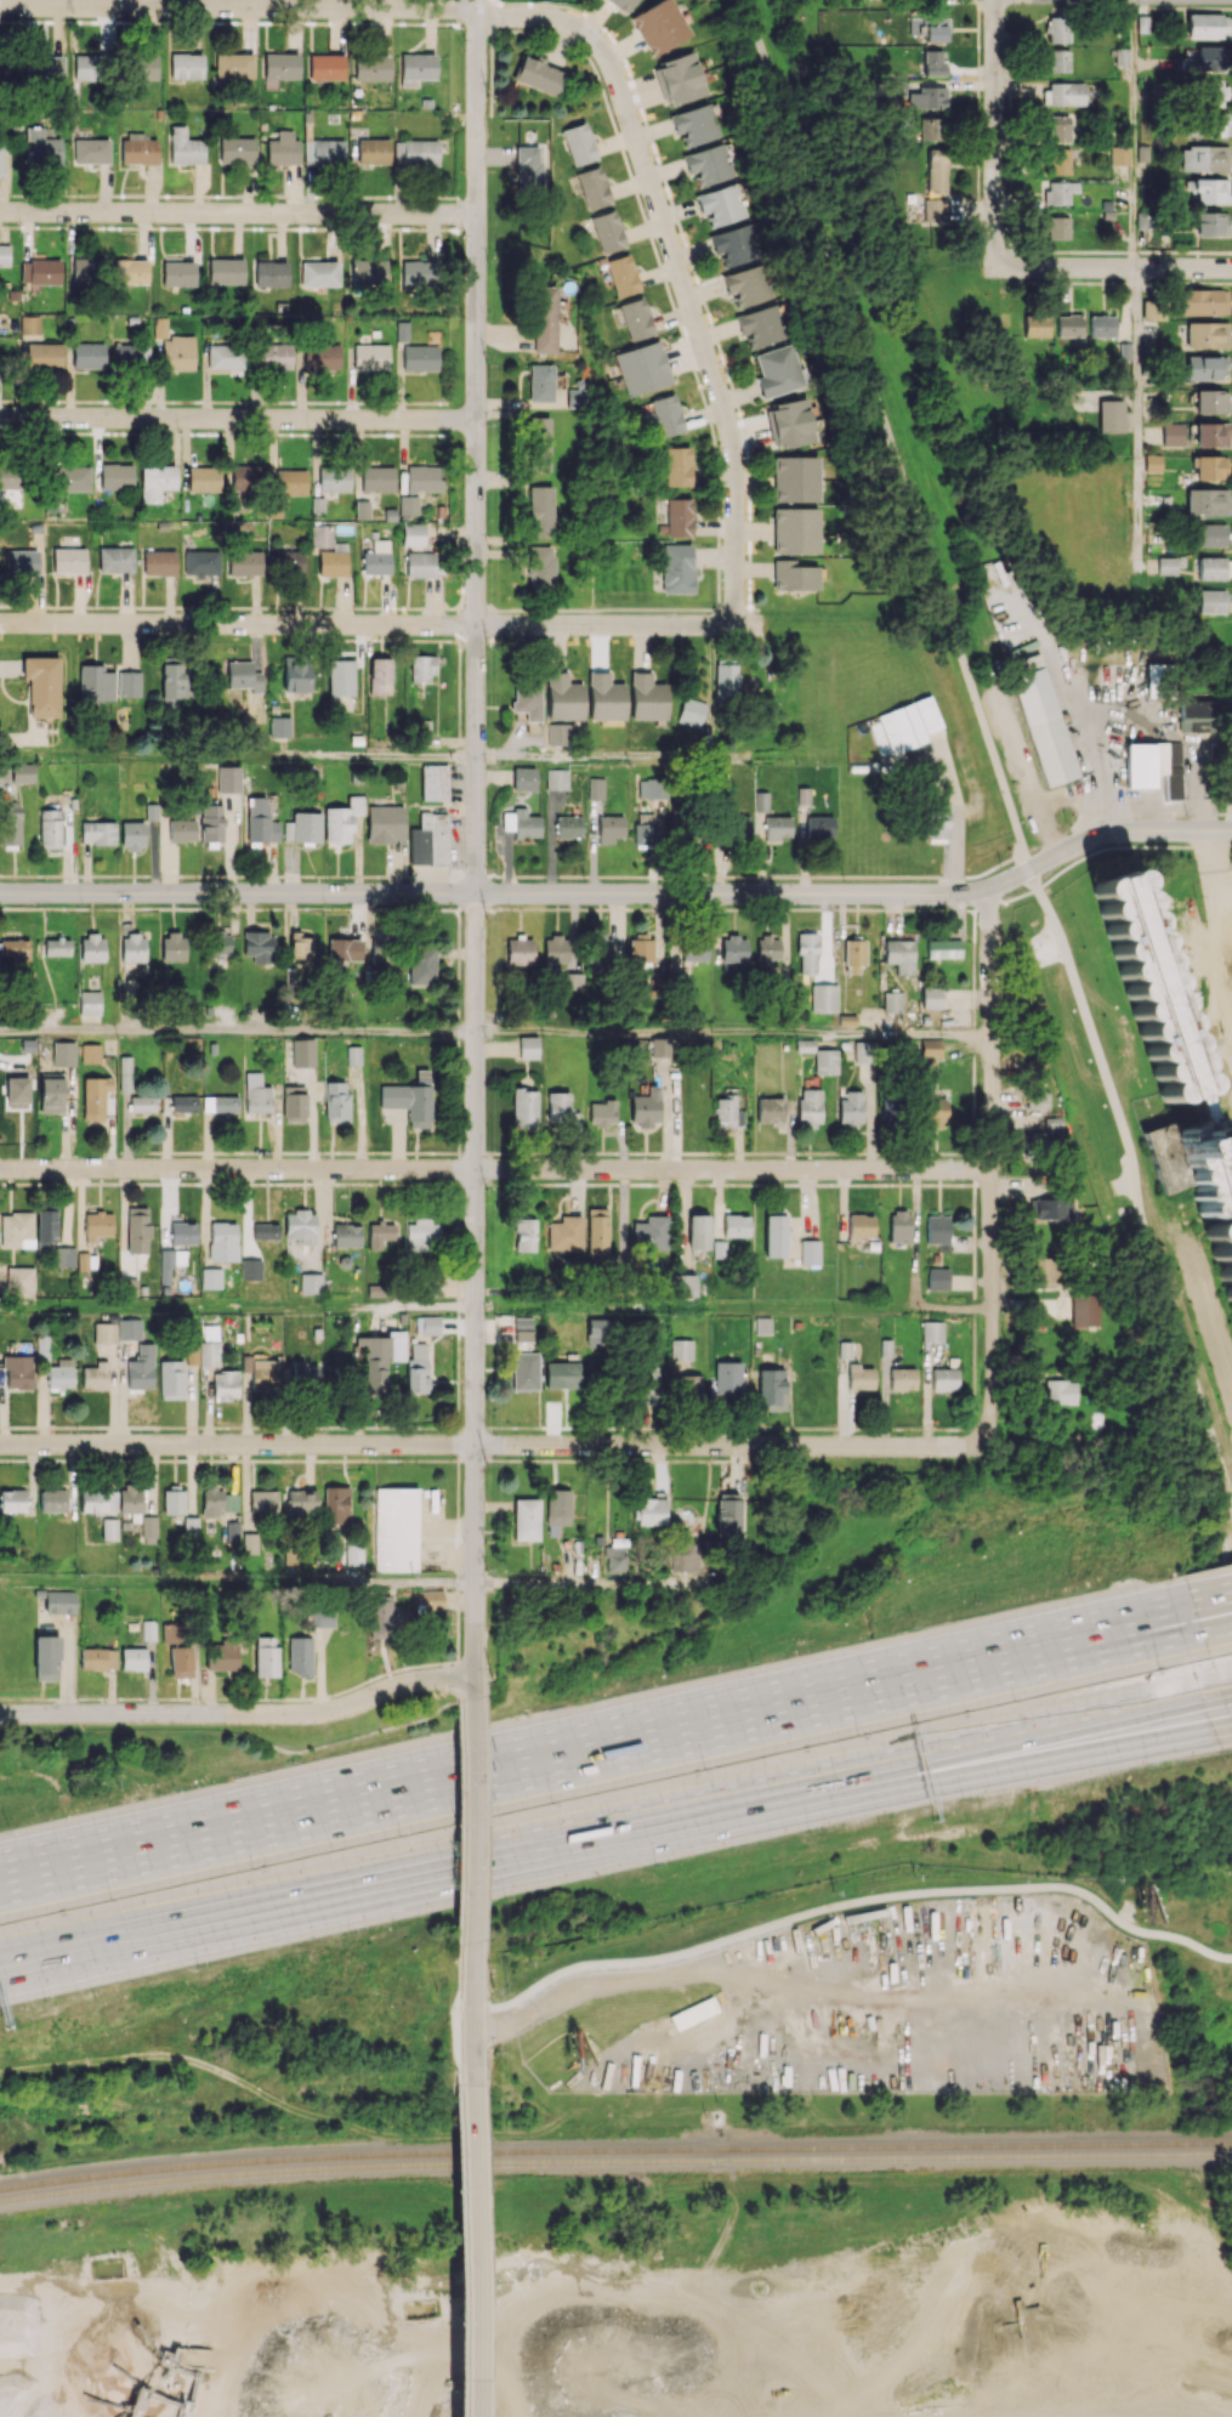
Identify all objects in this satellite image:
building: (623, 4)
road: (237, 6)
building: (659, 25)
building: (1208, 25)
building: (936, 29)
building: (1057, 29)
building: (1208, 59)
building: (1058, 61)
building: (933, 62)
building: (186, 66)
building: (234, 66)
building: (280, 66)
building: (325, 66)
building: (86, 67)
building: (144, 67)
building: (371, 68)
building: (416, 68)
building: (44, 69)
building: (539, 75)
building: (679, 79)
building: (1216, 92)
building: (1063, 93)
building: (927, 97)
building: (694, 124)
building: (1215, 124)
building: (932, 127)
building: (1058, 127)
road: (993, 134)
road: (1134, 134)
building: (579, 143)
building: (41, 147)
building: (184, 147)
building: (138, 148)
building: (283, 148)
building: (237, 149)
building: (90, 151)
building: (373, 151)
building: (323, 152)
building: (415, 152)
building: (1119, 155)
building: (0, 158)
building: (1203, 158)
building: (1057, 161)
building: (709, 163)
building: (527, 169)
building: (936, 171)
building: (592, 187)
building: (1208, 189)
building: (1061, 192)
building: (720, 204)
building: (933, 209)
road: (238, 212)
building: (1145, 219)
building: (1211, 223)
building: (1057, 227)
building: (607, 231)
building: (733, 245)
building: (4, 255)
road: (676, 263)
road: (1112, 267)
building: (40, 271)
building: (85, 271)
building: (130, 271)
building: (226, 271)
building: (368, 272)
building: (178, 273)
building: (271, 273)
building: (319, 273)
building: (419, 273)
building: (621, 274)
building: (745, 285)
building: (1204, 301)
building: (1153, 307)
building: (543, 318)
building: (635, 319)
building: (28, 324)
building: (760, 325)
building: (1035, 325)
building: (1068, 325)
building: (1101, 325)
building: (401, 330)
building: (1207, 334)
building: (175, 347)
building: (44, 354)
building: (89, 354)
building: (130, 354)
building: (273, 356)
building: (226, 357)
building: (322, 357)
building: (370, 357)
building: (420, 357)
building: (1204, 367)
building: (642, 368)
building: (777, 370)
building: (540, 382)
building: (575, 397)
building: (1211, 401)
building: (666, 415)
building: (1111, 415)
road: (238, 419)
road: (1134, 419)
building: (790, 422)
road: (886, 427)
building: (1173, 433)
building: (1209, 435)
building: (539, 443)
road: (477, 446)
building: (1152, 463)
building: (679, 466)
building: (1207, 467)
building: (115, 476)
building: (246, 476)
building: (69, 478)
building: (200, 478)
building: (376, 478)
building: (424, 478)
building: (795, 478)
building: (334, 480)
building: (155, 481)
building: (290, 482)
building: (8, 484)
building: (1163, 499)
building: (1207, 501)
building: (408, 505)
building: (540, 511)
building: (679, 517)
building: (795, 529)
building: (411, 534)
building: (1211, 534)
building: (328, 551)
building: (376, 557)
building: (115, 558)
building: (68, 560)
building: (21, 561)
building: (250, 561)
building: (159, 562)
building: (201, 562)
building: (289, 562)
building: (424, 563)
building: (1166, 566)
building: (540, 567)
building: (1211, 567)
building: (677, 568)
building: (794, 575)
building: (1211, 601)
road: (386, 624)
building: (421, 668)
building: (295, 673)
building: (243, 675)
building: (340, 676)
building: (380, 676)
building: (1159, 677)
building: (726, 681)
building: (96, 683)
building: (129, 683)
building: (41, 685)
building: (174, 685)
building: (563, 697)
building: (604, 697)
building: (647, 697)
building: (527, 699)
building: (692, 711)
building: (1194, 715)
building: (1040, 716)
building: (909, 724)
building: (279, 726)
building: (558, 733)
road: (237, 756)
road: (653, 756)
building: (864, 766)
building: (1153, 766)
building: (22, 772)
building: (228, 778)
building: (523, 778)
building: (557, 778)
building: (435, 782)
building: (596, 788)
building: (649, 788)
building: (802, 794)
building: (761, 801)
road: (1148, 813)
street lamp: (1186, 817)
building: (341, 819)
building: (937, 819)
building: (260, 821)
building: (211, 822)
building: (385, 823)
building: (521, 823)
building: (10, 824)
building: (739, 824)
building: (777, 825)
building: (303, 827)
building: (568, 827)
building: (819, 827)
building: (49, 828)
building: (609, 828)
building: (181, 829)
building: (645, 830)
road: (1208, 830)
building: (97, 832)
road: (1101, 832)
building: (131, 835)
road: (1046, 838)
building: (428, 839)
road: (1023, 863)
street lamp: (1000, 868)
road: (1029, 875)
road: (753, 876)
street lamp: (584, 880)
street lamp: (711, 880)
street lamp: (842, 881)
road: (954, 891)
road: (32, 892)
road: (471, 892)
street lamp: (81, 903)
street lamp: (324, 904)
street lamp: (487, 918)
building: (218, 942)
building: (56, 946)
building: (259, 946)
building: (132, 947)
building: (172, 947)
building: (641, 947)
building: (91, 948)
building: (943, 948)
building: (345, 949)
building: (382, 949)
building: (602, 949)
building: (694, 949)
building: (733, 949)
building: (767, 949)
building: (15, 951)
building: (520, 951)
building: (807, 953)
building: (853, 955)
building: (899, 955)
building: (421, 965)
building: (1147, 986)
silo: (1147, 986)
building: (942, 997)
building: (823, 998)
building: (892, 1002)
building: (90, 1003)
road: (237, 1032)
road: (732, 1034)
street lamp: (484, 1038)
building: (528, 1046)
building: (658, 1046)
building: (931, 1048)
building: (863, 1051)
building: (63, 1053)
building: (90, 1053)
building: (302, 1053)
building: (825, 1061)
building: (125, 1073)
building: (256, 1094)
building: (50, 1095)
building: (93, 1096)
building: (410, 1099)
building: (1038, 1099)
building: (294, 1102)
building: (336, 1102)
building: (142, 1103)
building: (183, 1103)
building: (220, 1103)
building: (646, 1107)
building: (810, 1107)
building: (523, 1108)
building: (557, 1108)
building: (851, 1108)
building: (770, 1111)
building: (890, 1111)
building: (935, 1111)
building: (602, 1112)
building: (727, 1112)
road: (989, 1167)
road: (494, 1169)
building: (1210, 1187)
silo: (1210, 1187)
road: (1135, 1188)
street lamp: (487, 1191)
building: (1050, 1208)
road: (458, 1221)
building: (45, 1225)
building: (97, 1225)
building: (736, 1225)
building: (861, 1225)
building: (899, 1225)
building: (301, 1226)
building: (937, 1229)
building: (16, 1230)
building: (136, 1230)
building: (265, 1231)
building: (597, 1231)
building: (698, 1231)
building: (182, 1232)
building: (649, 1232)
building: (379, 1233)
building: (564, 1233)
building: (346, 1235)
building: (421, 1235)
building: (524, 1235)
building: (773, 1236)
building: (222, 1241)
building: (810, 1252)
building: (63, 1256)
road: (475, 1258)
building: (170, 1263)
building: (250, 1269)
building: (1045, 1271)
building: (210, 1278)
building: (937, 1278)
building: (18, 1281)
building: (311, 1283)
building: (683, 1283)
building: (129, 1287)
road: (237, 1309)
building: (1085, 1309)
road: (732, 1311)
street lamp: (484, 1314)
building: (427, 1324)
building: (762, 1324)
building: (129, 1328)
building: (526, 1328)
building: (598, 1329)
building: (932, 1331)
building: (104, 1332)
building: (681, 1349)
building: (209, 1352)
building: (192, 1354)
building: (380, 1358)
building: (141, 1367)
building: (418, 1368)
building: (263, 1371)
building: (524, 1371)
building: (18, 1372)
building: (59, 1373)
building: (306, 1374)
building: (562, 1374)
building: (95, 1375)
building: (859, 1377)
building: (902, 1378)
building: (171, 1379)
building: (943, 1379)
building: (726, 1380)
building: (225, 1384)
building: (648, 1384)
building: (689, 1385)
building: (771, 1389)
building: (1060, 1391)
road: (492, 1445)
street lamp: (487, 1464)
building: (263, 1499)
building: (12, 1500)
building: (52, 1500)
building: (97, 1500)
building: (211, 1500)
building: (174, 1502)
building: (300, 1503)
building: (336, 1505)
building: (557, 1507)
building: (651, 1510)
building: (526, 1517)
building: (728, 1517)
building: (108, 1528)
building: (149, 1528)
building: (397, 1528)
building: (232, 1531)
building: (249, 1543)
building: (353, 1554)
building: (614, 1554)
building: (686, 1559)
street lamp: (484, 1568)
road: (237, 1583)
road: (594, 1584)
road: (1211, 1599)
building: (432, 1600)
building: (59, 1601)
building: (322, 1616)
building: (382, 1618)
road: (1216, 1624)
building: (149, 1630)
building: (170, 1632)
building: (222, 1655)
building: (299, 1655)
building: (45, 1656)
building: (265, 1656)
building: (97, 1658)
building: (134, 1658)
building: (180, 1661)
road: (475, 1661)
street lamp: (751, 1661)
street lamp: (442, 1664)
road: (876, 1675)
street lamp: (492, 1676)
road: (1225, 1680)
road: (881, 1691)
street lamp: (592, 1696)
road: (240, 1713)
road: (1230, 1717)
street lamp: (431, 1730)
street lamp: (293, 1759)
street lamp: (704, 1769)
road: (796, 1782)
street lamp: (172, 1785)
road: (802, 1800)
street lamp: (551, 1802)
road: (282, 1815)
road: (473, 1819)
road: (459, 1823)
street lamp: (6, 1825)
street lamp: (398, 1834)
street lamp: (655, 1866)
street lamp: (250, 1868)
street lamp: (505, 1897)
street lamp: (109, 1899)
road: (862, 1899)
road: (188, 1924)
street lamp: (348, 1931)
street lamp: (195, 1965)
road: (473, 1970)
road: (460, 1971)
power tower: (493, 1987)
road: (475, 1999)
street lamp: (42, 2001)
road: (453, 2033)
road: (473, 2042)
street lamp: (489, 2047)
railway: (614, 2151)
railway: (614, 2162)
road: (458, 2243)
road: (472, 2251)

